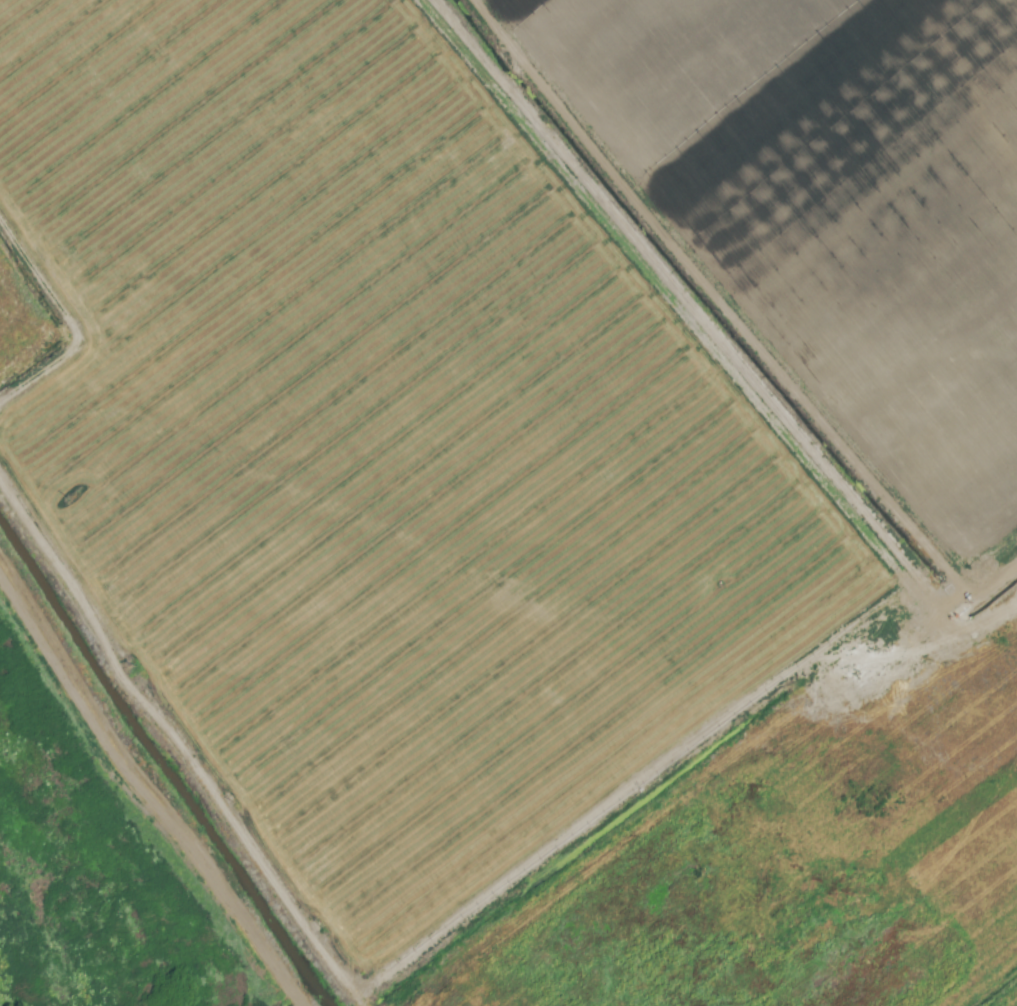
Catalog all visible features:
crop: (508, 503)

